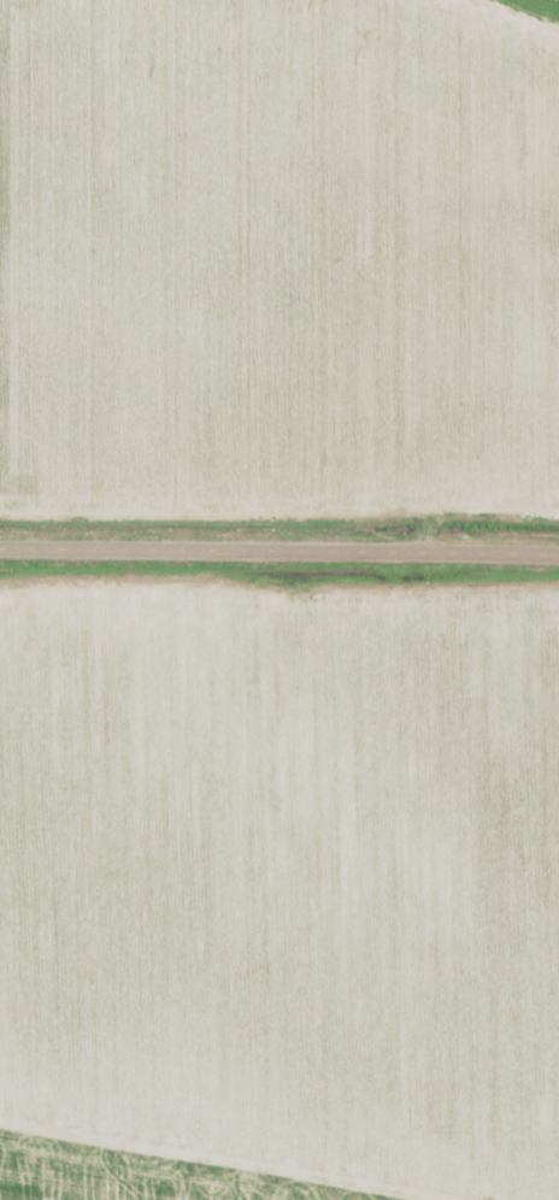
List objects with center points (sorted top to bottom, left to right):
road: (279, 554)
road: (279, 1135)

